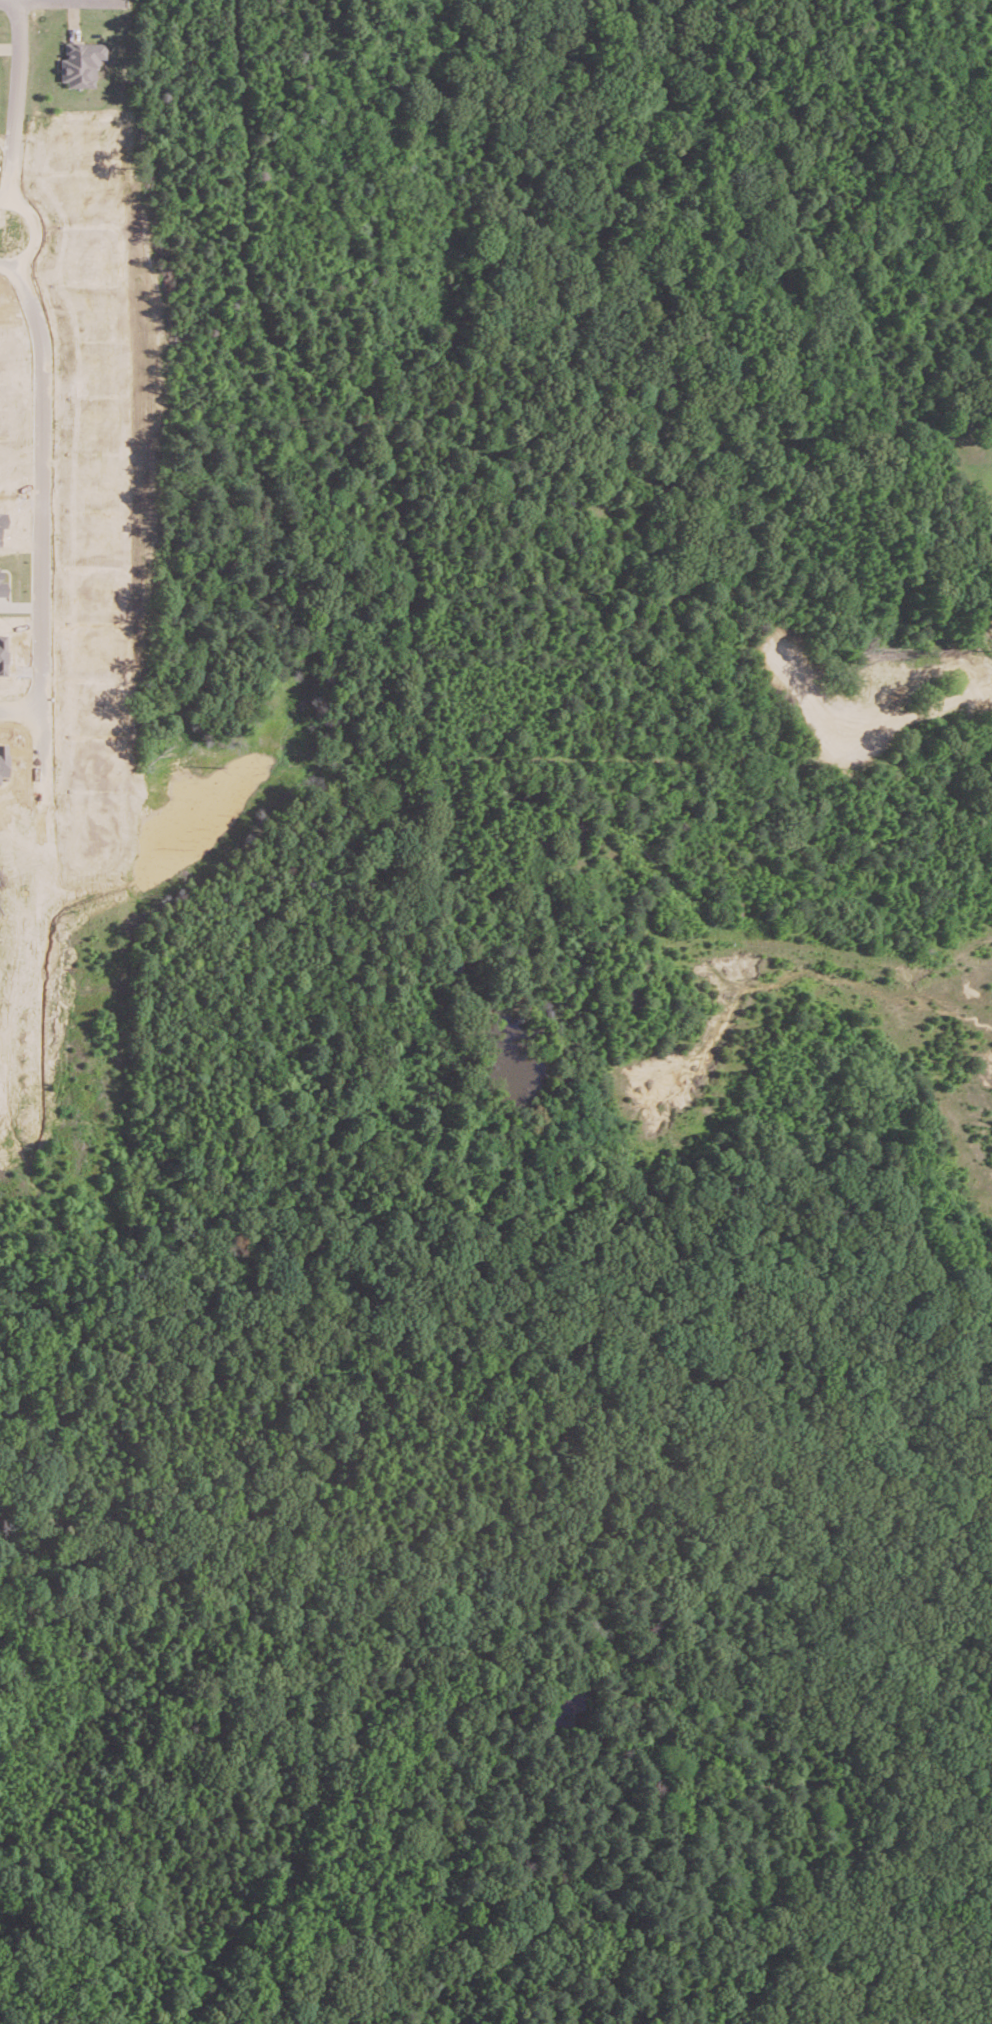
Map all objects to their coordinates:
building: (80, 62)
road: (16, 73)
road: (2, 232)
road: (43, 442)
building: (3, 522)
building: (3, 585)
building: (4, 654)
building: (4, 759)

